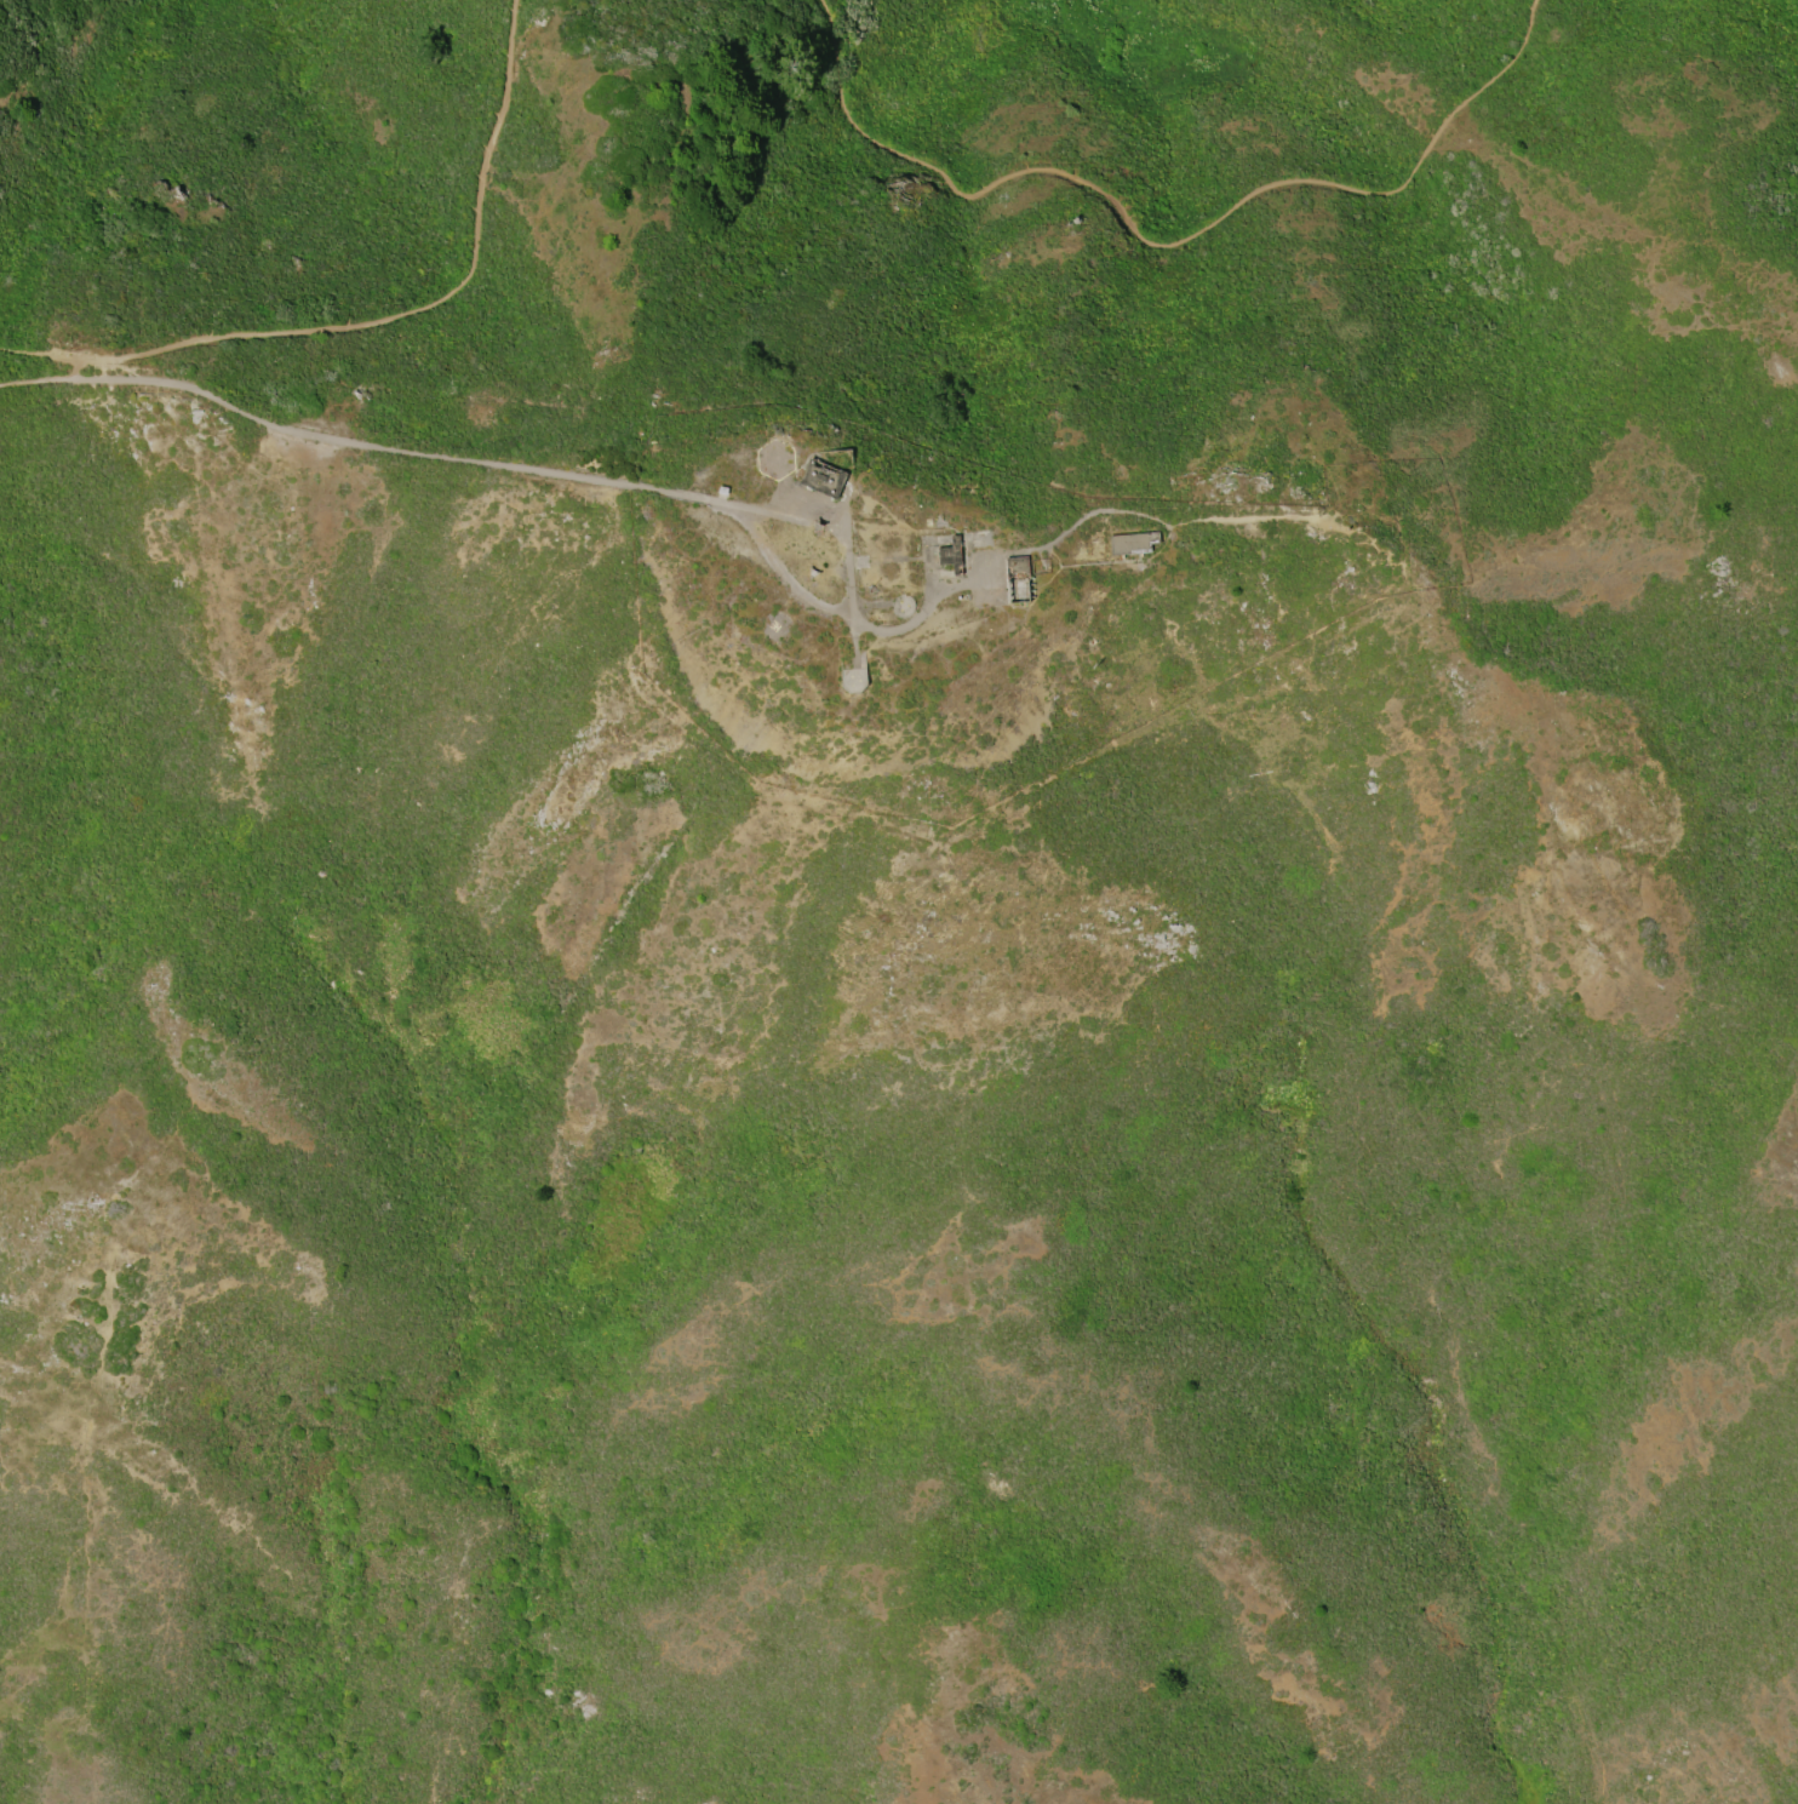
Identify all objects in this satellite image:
road: (1169, 250)
road: (408, 313)
road: (38, 356)
road: (33, 379)
road: (382, 453)
building: (825, 479)
building: (721, 491)
road: (757, 514)
road: (1178, 523)
road: (829, 529)
building: (1133, 544)
building: (951, 556)
road: (1054, 559)
road: (1127, 563)
building: (1017, 582)
road: (852, 592)
helipad: (778, 631)
road: (881, 631)

